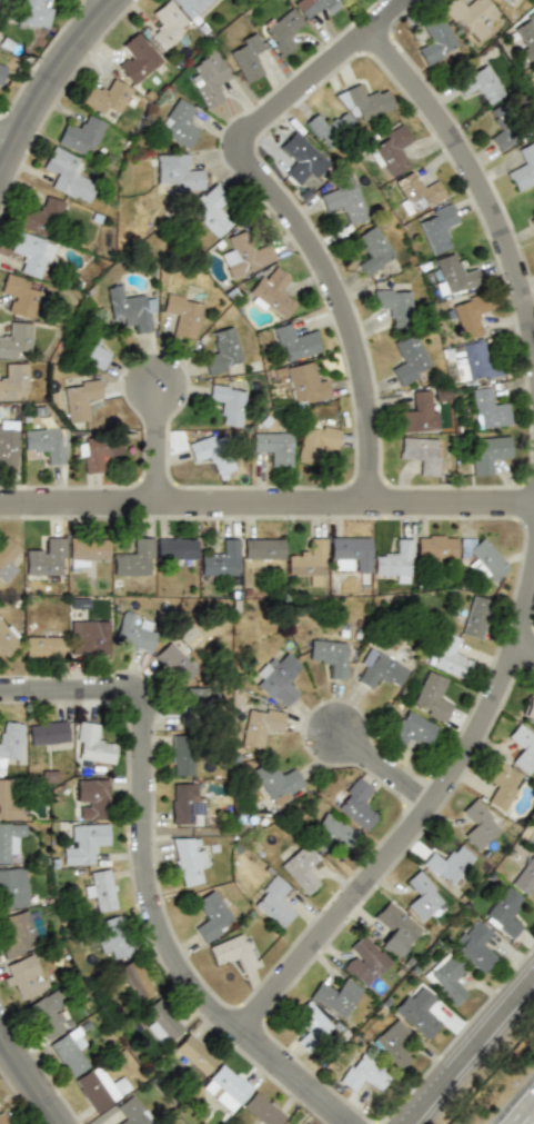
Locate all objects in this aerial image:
building: (507, 1)
road: (117, 6)
building: (191, 7)
building: (314, 7)
building: (32, 14)
building: (470, 16)
building: (165, 24)
building: (282, 29)
building: (524, 36)
building: (436, 43)
building: (246, 56)
building: (137, 58)
building: (2, 72)
building: (210, 78)
building: (480, 84)
road: (56, 95)
building: (105, 97)
building: (365, 101)
building: (179, 123)
building: (506, 127)
building: (330, 128)
building: (80, 133)
road: (10, 150)
building: (391, 150)
building: (302, 157)
road: (472, 163)
building: (523, 168)
building: (178, 170)
building: (67, 175)
building: (419, 192)
building: (533, 195)
building: (343, 201)
building: (211, 210)
road: (290, 212)
building: (40, 216)
building: (532, 222)
building: (437, 228)
building: (372, 250)
building: (31, 253)
building: (242, 255)
building: (455, 275)
building: (272, 292)
building: (19, 296)
building: (393, 305)
building: (130, 309)
building: (181, 314)
building: (471, 315)
building: (14, 338)
building: (294, 341)
building: (221, 351)
building: (93, 352)
building: (409, 359)
building: (473, 361)
building: (13, 381)
building: (304, 384)
building: (79, 398)
building: (226, 402)
building: (488, 408)
building: (420, 414)
building: (318, 439)
building: (8, 442)
building: (46, 444)
building: (272, 446)
road: (165, 449)
building: (95, 451)
building: (212, 451)
building: (488, 452)
building: (421, 454)
road: (266, 507)
building: (436, 546)
building: (174, 548)
building: (262, 548)
building: (87, 550)
building: (350, 554)
building: (46, 557)
building: (7, 558)
building: (487, 558)
building: (133, 559)
building: (220, 560)
building: (308, 561)
building: (394, 561)
building: (475, 617)
building: (132, 633)
building: (7, 640)
building: (88, 640)
building: (41, 646)
road: (528, 650)
building: (328, 655)
building: (447, 656)
building: (174, 662)
building: (379, 669)
building: (278, 679)
building: (431, 696)
building: (194, 706)
building: (528, 707)
building: (259, 726)
building: (412, 732)
building: (47, 733)
building: (9, 742)
building: (92, 744)
building: (522, 746)
building: (180, 755)
road: (384, 767)
building: (275, 779)
building: (501, 784)
building: (91, 798)
building: (9, 802)
building: (355, 804)
building: (185, 805)
building: (477, 824)
building: (331, 832)
building: (9, 838)
road: (412, 839)
building: (85, 844)
building: (533, 845)
building: (188, 859)
building: (449, 864)
building: (302, 867)
road: (152, 876)
building: (525, 876)
building: (12, 887)
building: (101, 889)
building: (421, 895)
building: (273, 901)
building: (504, 912)
building: (211, 915)
building: (395, 928)
building: (21, 934)
building: (112, 938)
building: (475, 946)
building: (232, 952)
building: (364, 961)
building: (23, 976)
building: (446, 978)
building: (135, 979)
building: (335, 996)
building: (417, 1011)
building: (46, 1014)
building: (311, 1018)
building: (160, 1021)
road: (3, 1042)
building: (393, 1044)
building: (70, 1053)
building: (194, 1054)
road: (477, 1057)
building: (362, 1074)
road: (30, 1076)
building: (226, 1083)
building: (99, 1087)
building: (262, 1110)
building: (130, 1113)
road: (530, 1118)
building: (2, 1120)
building: (304, 1123)
building: (305, 1123)

